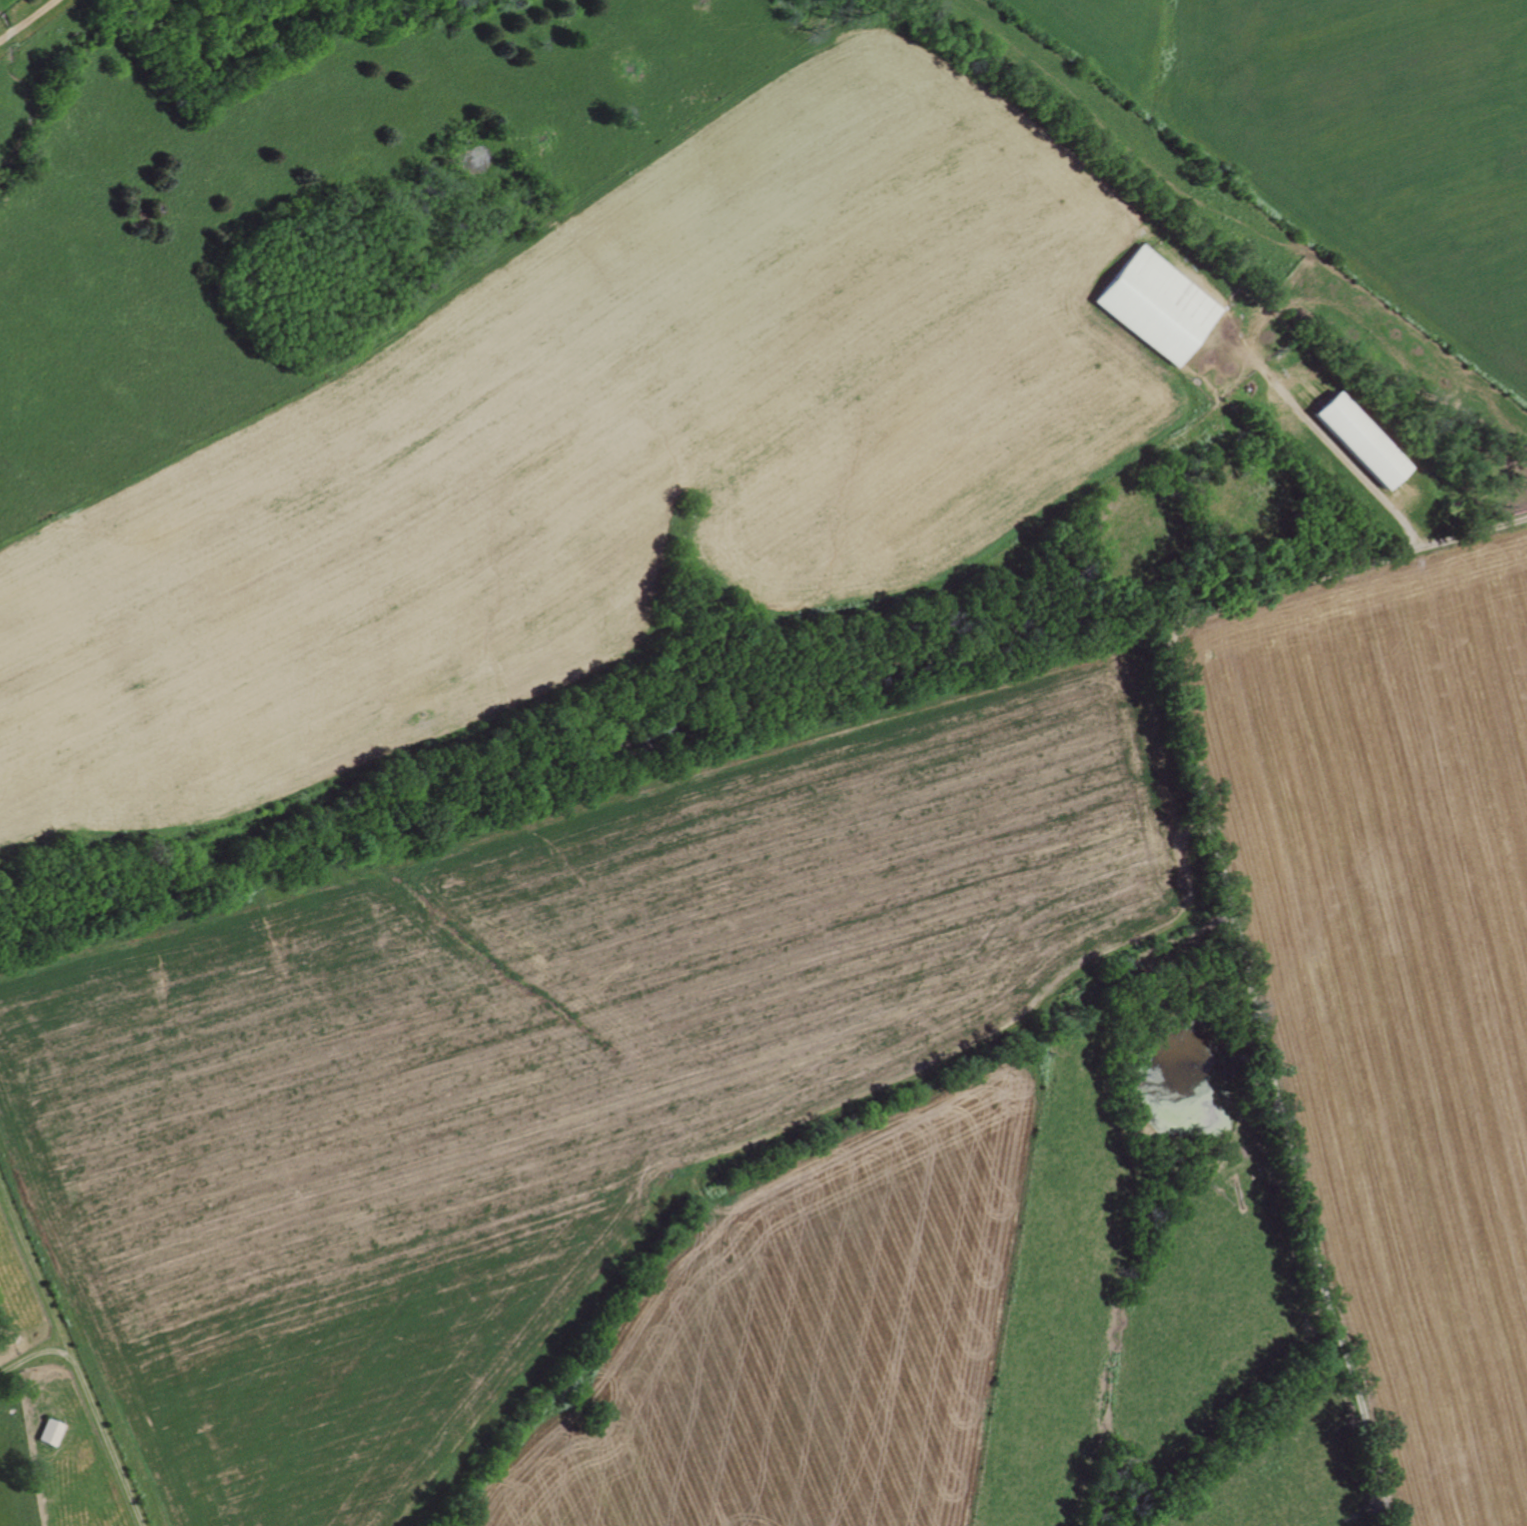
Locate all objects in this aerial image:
road: (27, 19)
road: (1242, 903)
road: (89, 1405)
building: (51, 1432)

